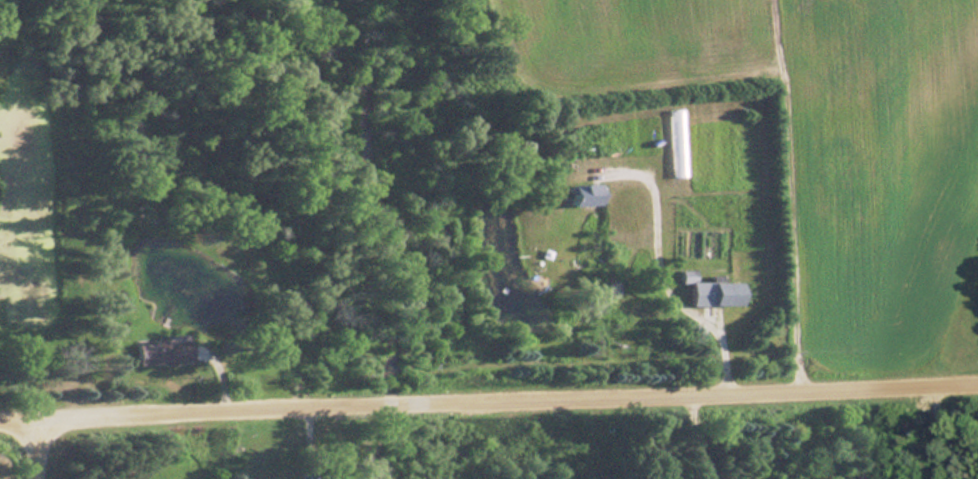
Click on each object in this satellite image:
building: (581, 195)
road: (665, 274)
building: (712, 293)
building: (159, 352)
road: (488, 394)
road: (696, 426)
road: (41, 446)

